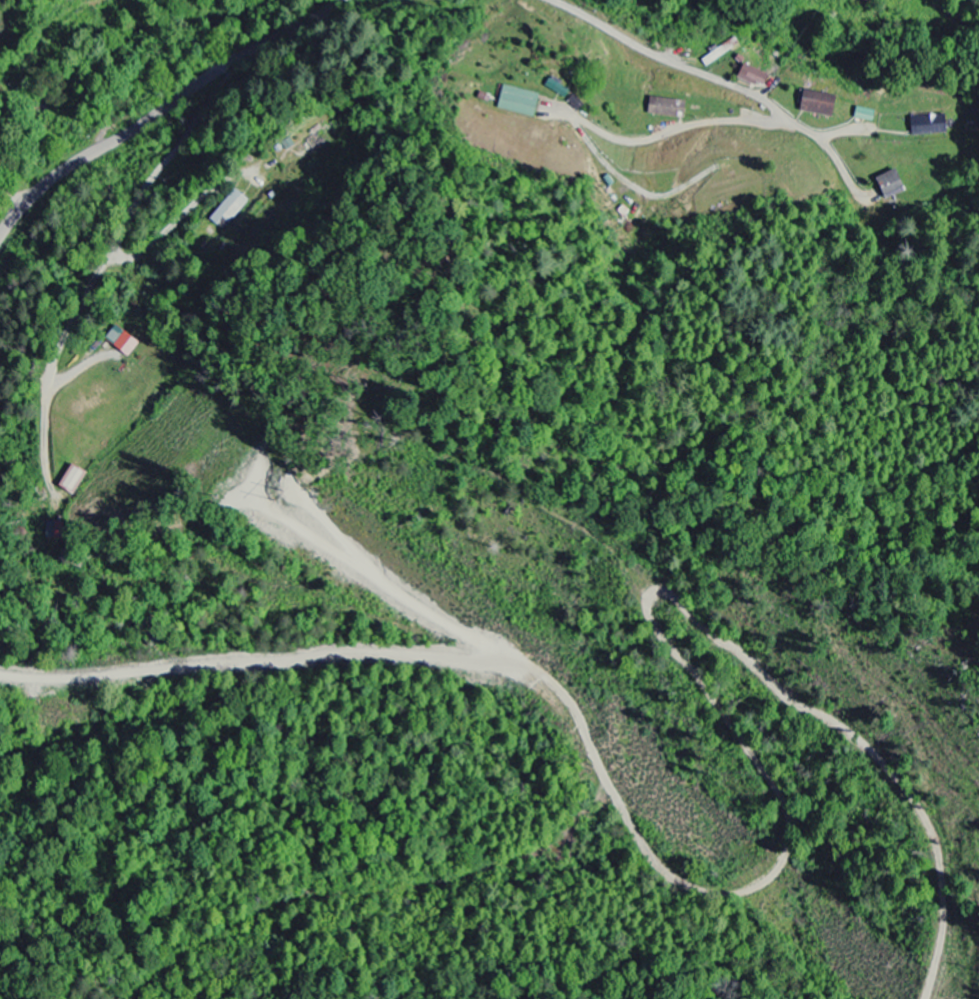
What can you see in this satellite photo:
building: (862, 0)
building: (752, 77)
road: (729, 81)
building: (517, 102)
building: (816, 104)
building: (664, 108)
road: (157, 114)
building: (863, 116)
building: (927, 126)
building: (889, 186)
road: (11, 204)
road: (129, 218)
building: (120, 341)
building: (73, 479)

